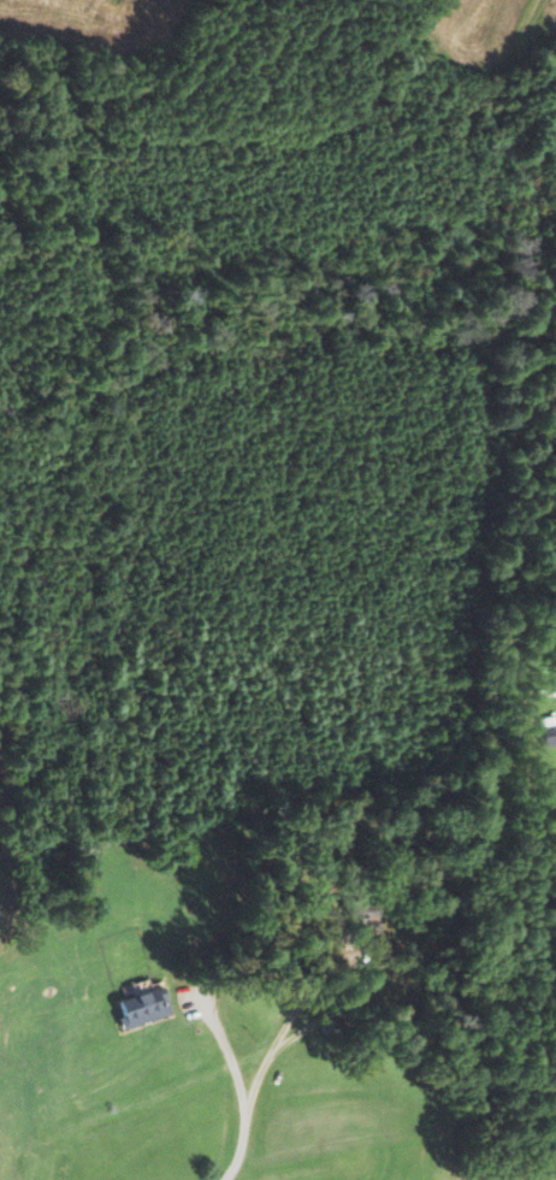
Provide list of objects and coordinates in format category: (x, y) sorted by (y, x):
building: (361, 916)
road: (336, 963)
building: (147, 1008)
road: (238, 1087)

